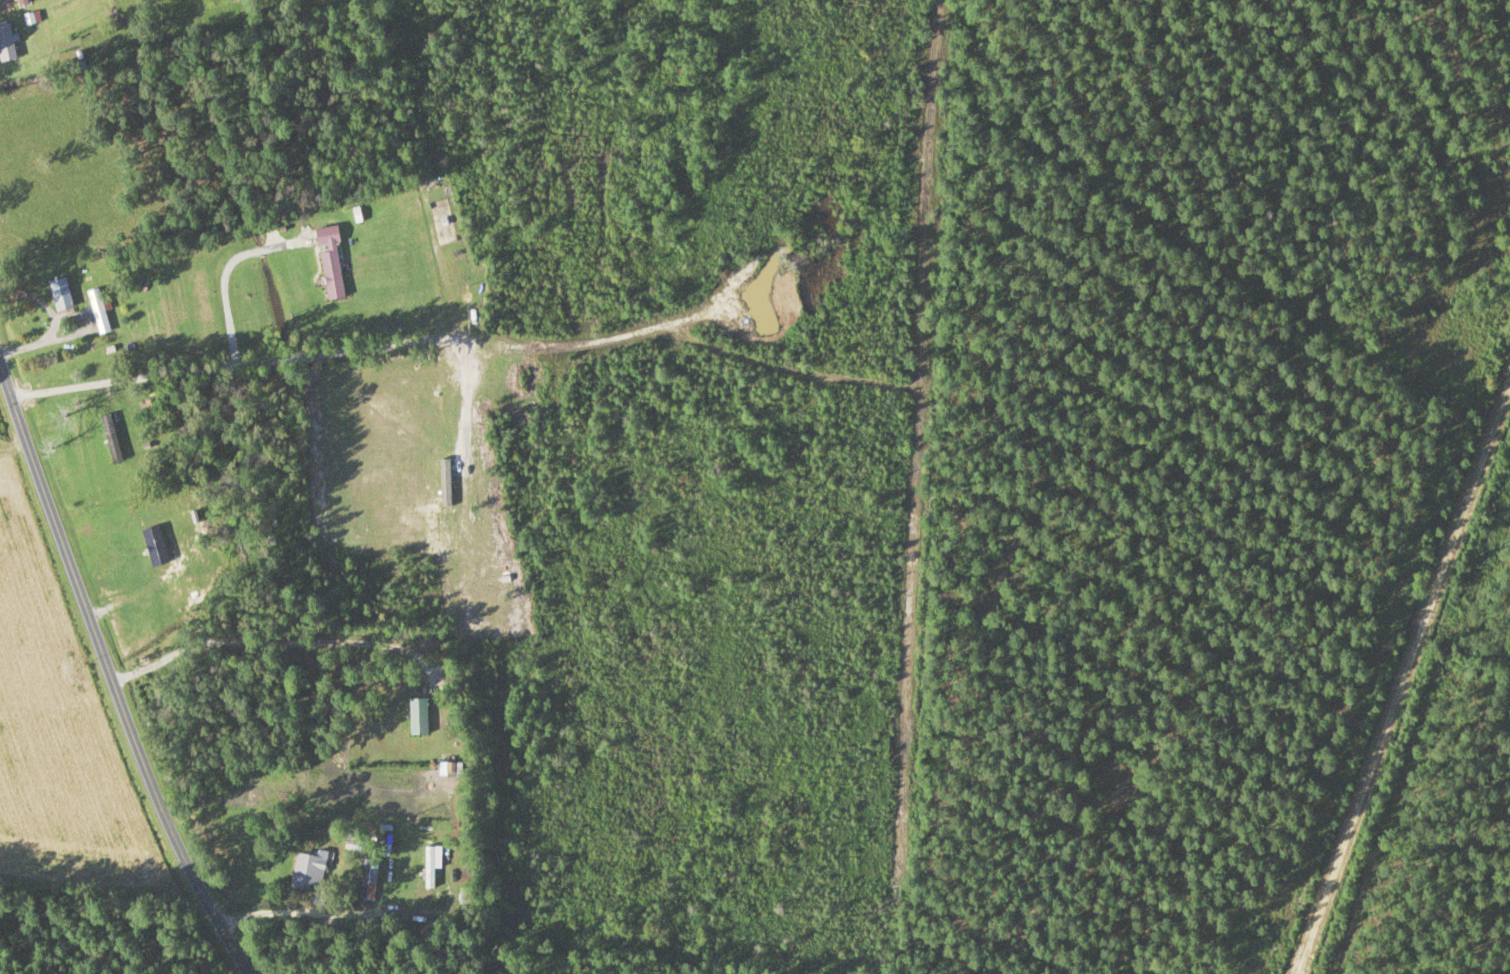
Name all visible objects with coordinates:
building: (22, 2)
building: (7, 42)
road: (227, 274)
building: (60, 294)
building: (98, 311)
road: (662, 330)
road: (4, 382)
building: (148, 407)
building: (110, 438)
road: (281, 644)
building: (429, 645)
road: (1403, 678)
road: (119, 690)
building: (418, 716)
building: (448, 768)
building: (429, 867)
building: (308, 870)
building: (367, 881)
road: (326, 913)

